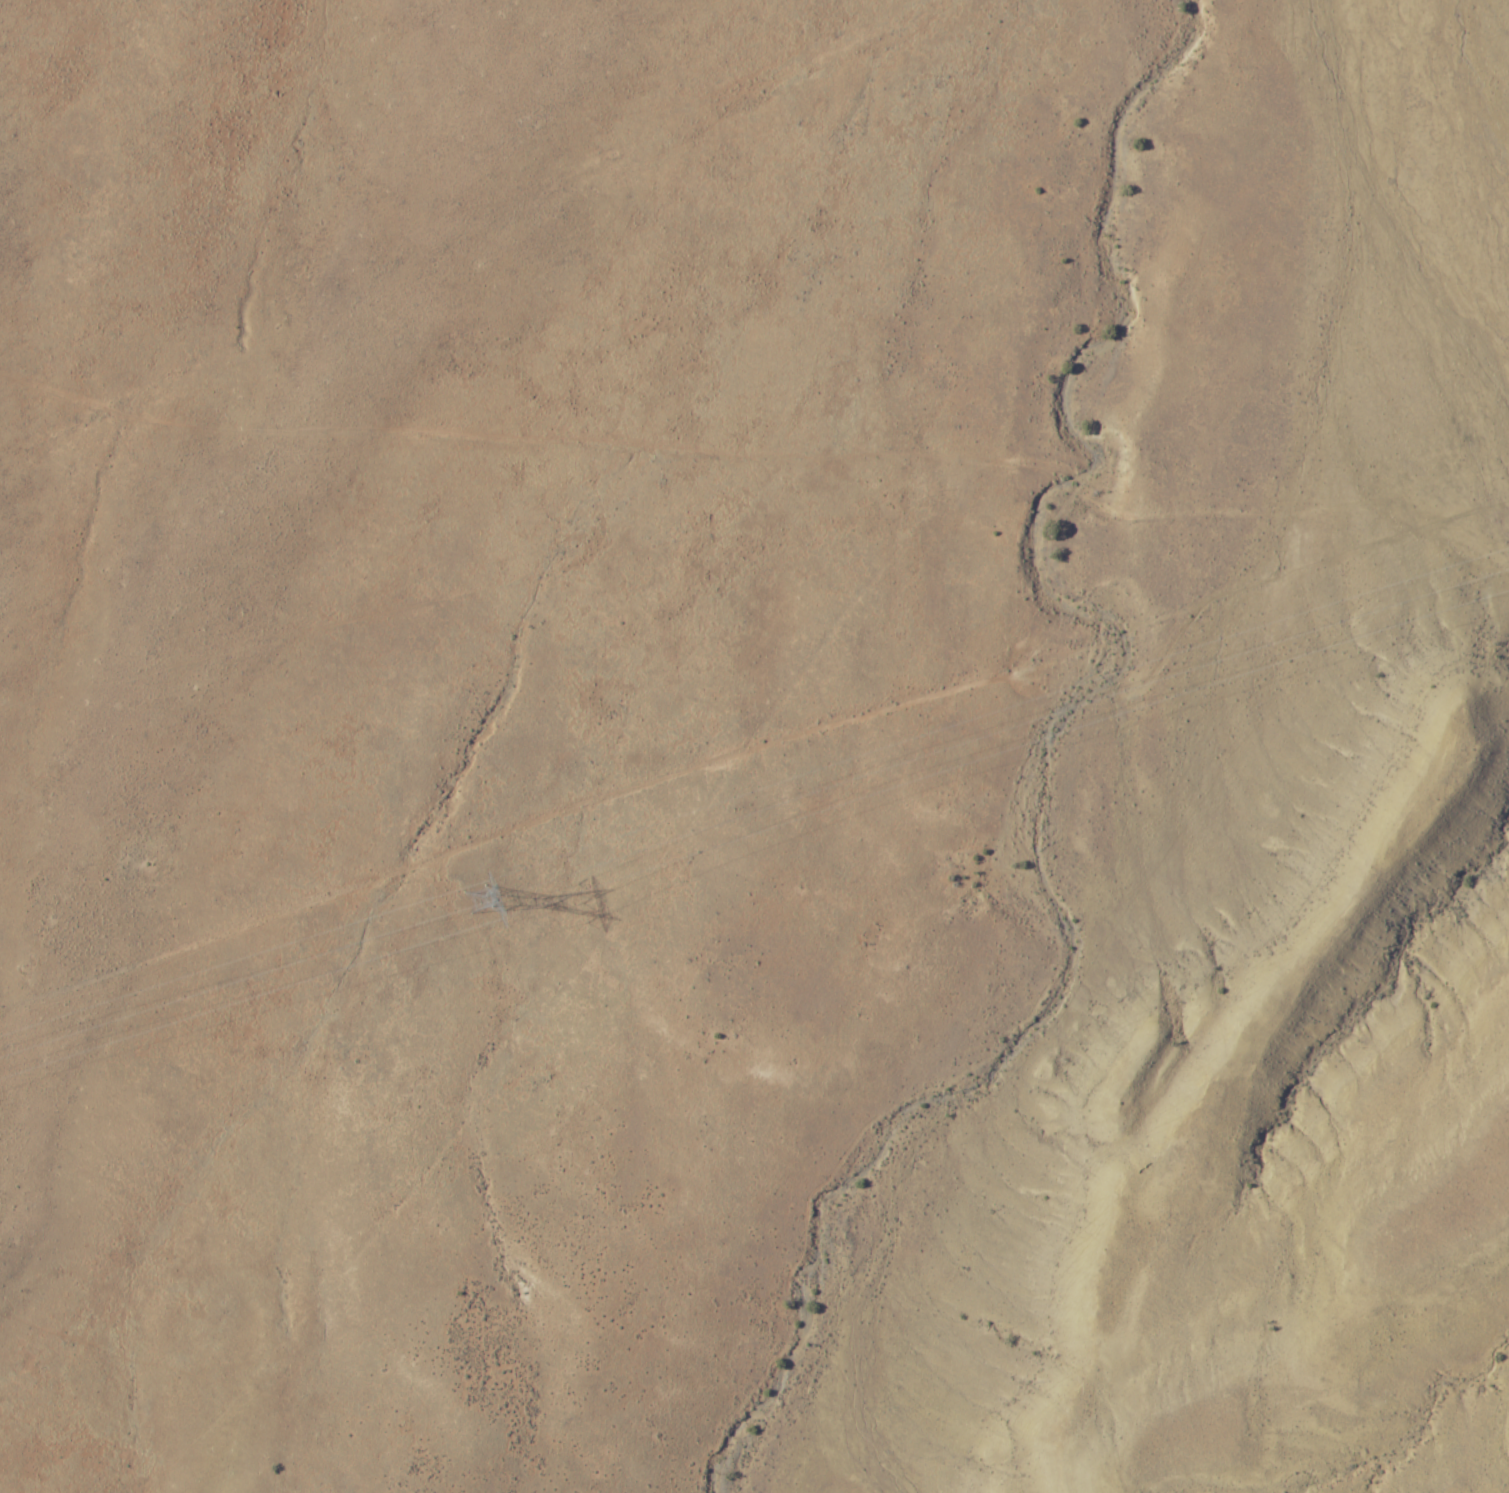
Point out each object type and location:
road: (645, 491)
road: (761, 748)
power tower: (469, 898)

